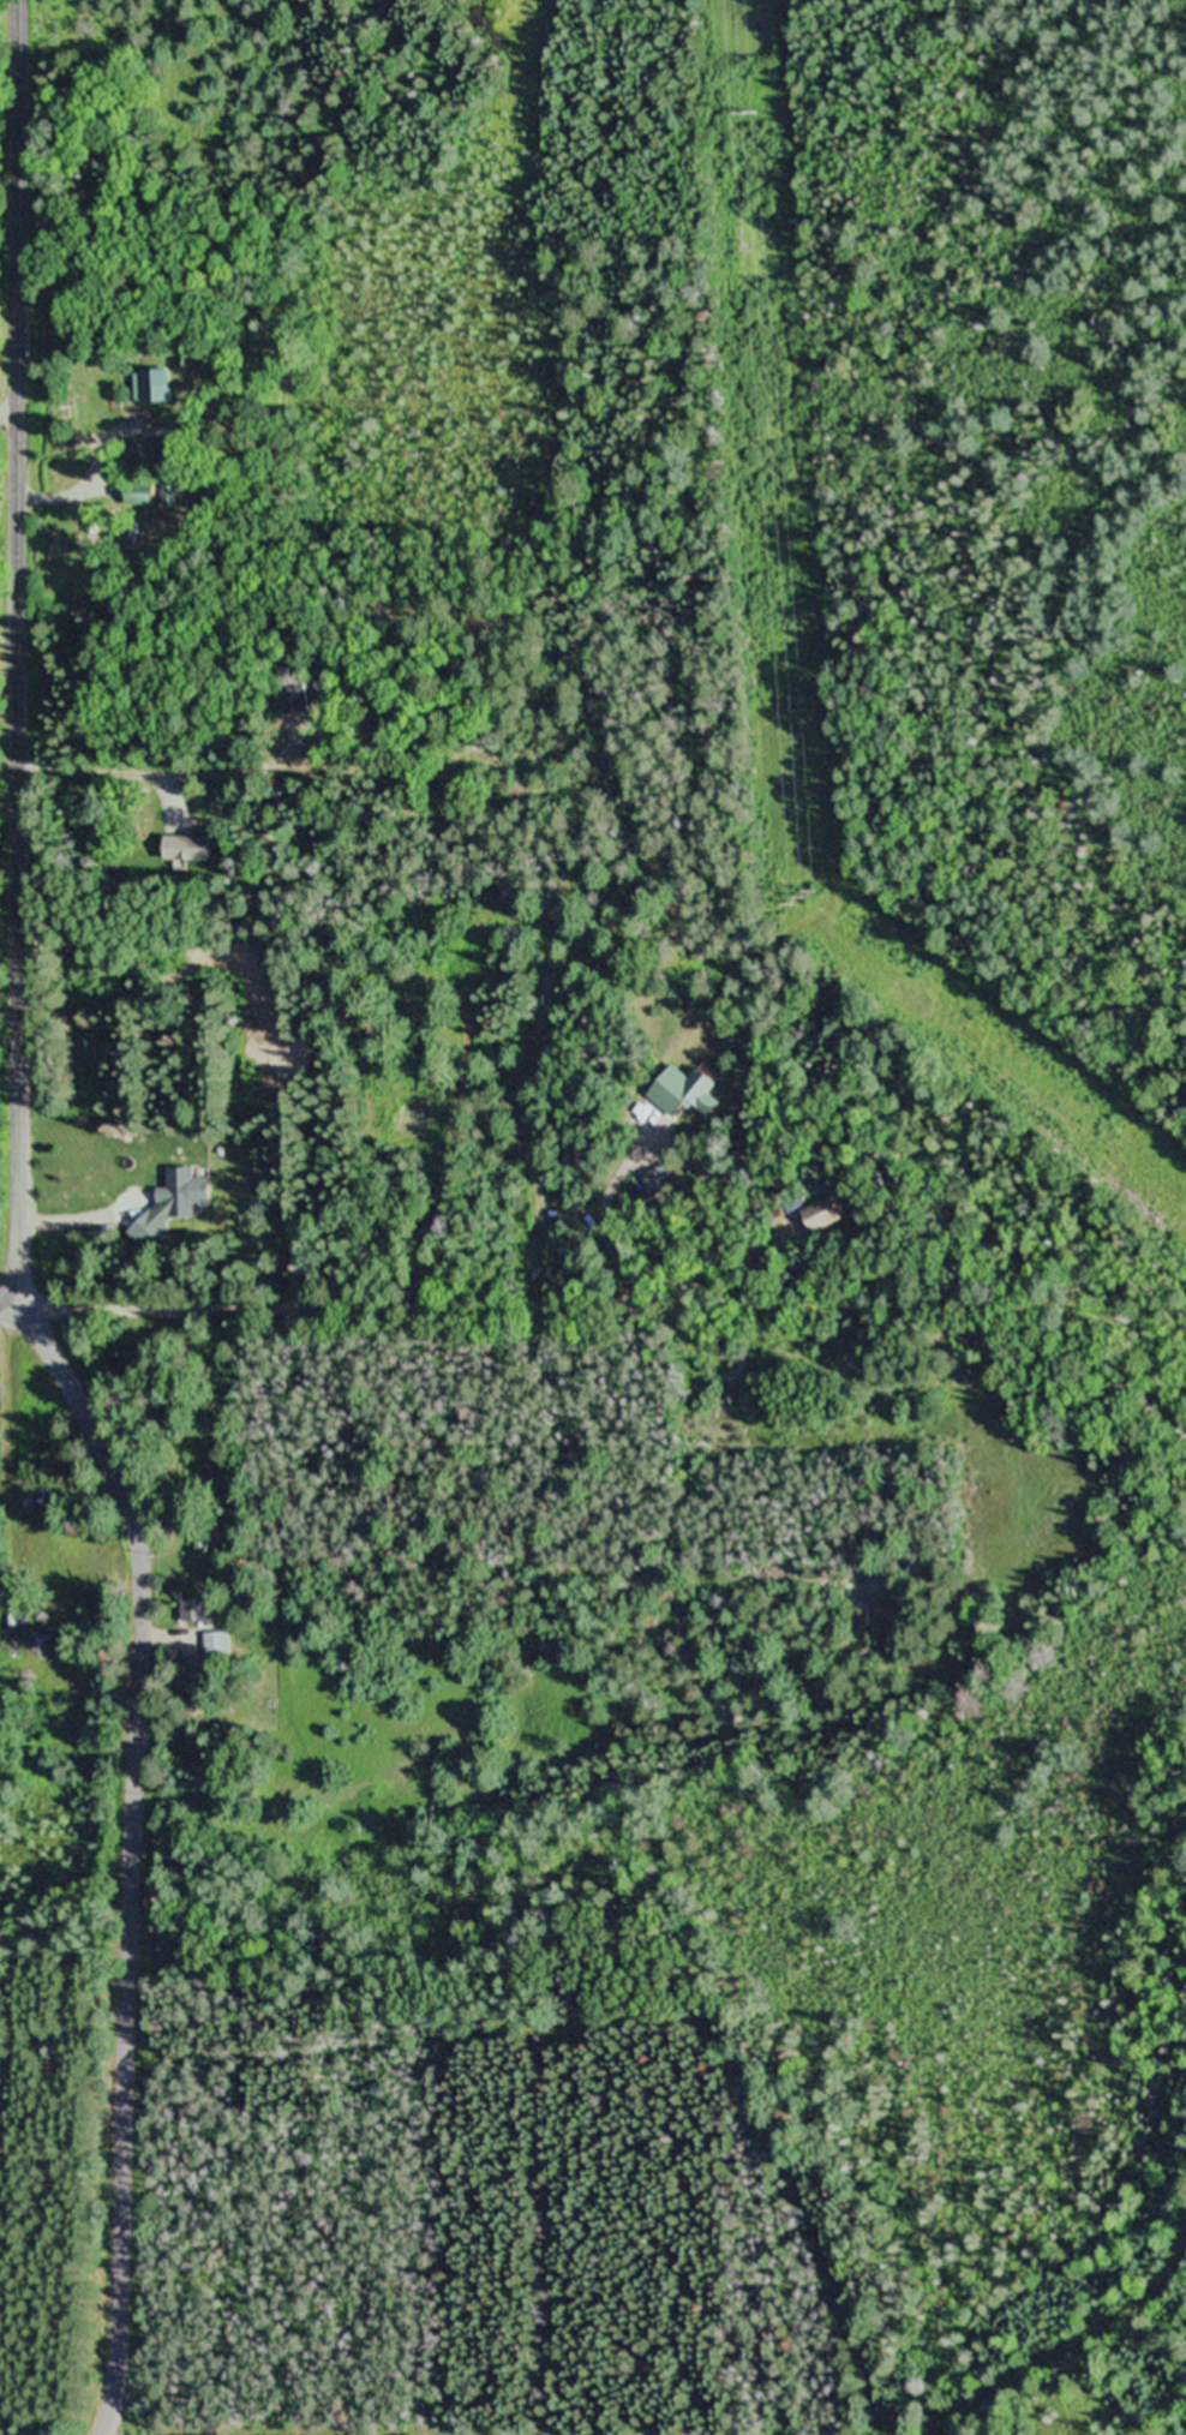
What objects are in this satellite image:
power tower: (753, 115)
building: (152, 389)
building: (138, 495)
building: (185, 849)
power tower: (807, 892)
building: (684, 1091)
building: (166, 1205)
building: (822, 1215)
road: (25, 1231)
road: (611, 1286)
road: (18, 1309)
building: (204, 1538)
building: (192, 1611)
building: (13, 1638)
building: (47, 1644)
building: (216, 1647)

